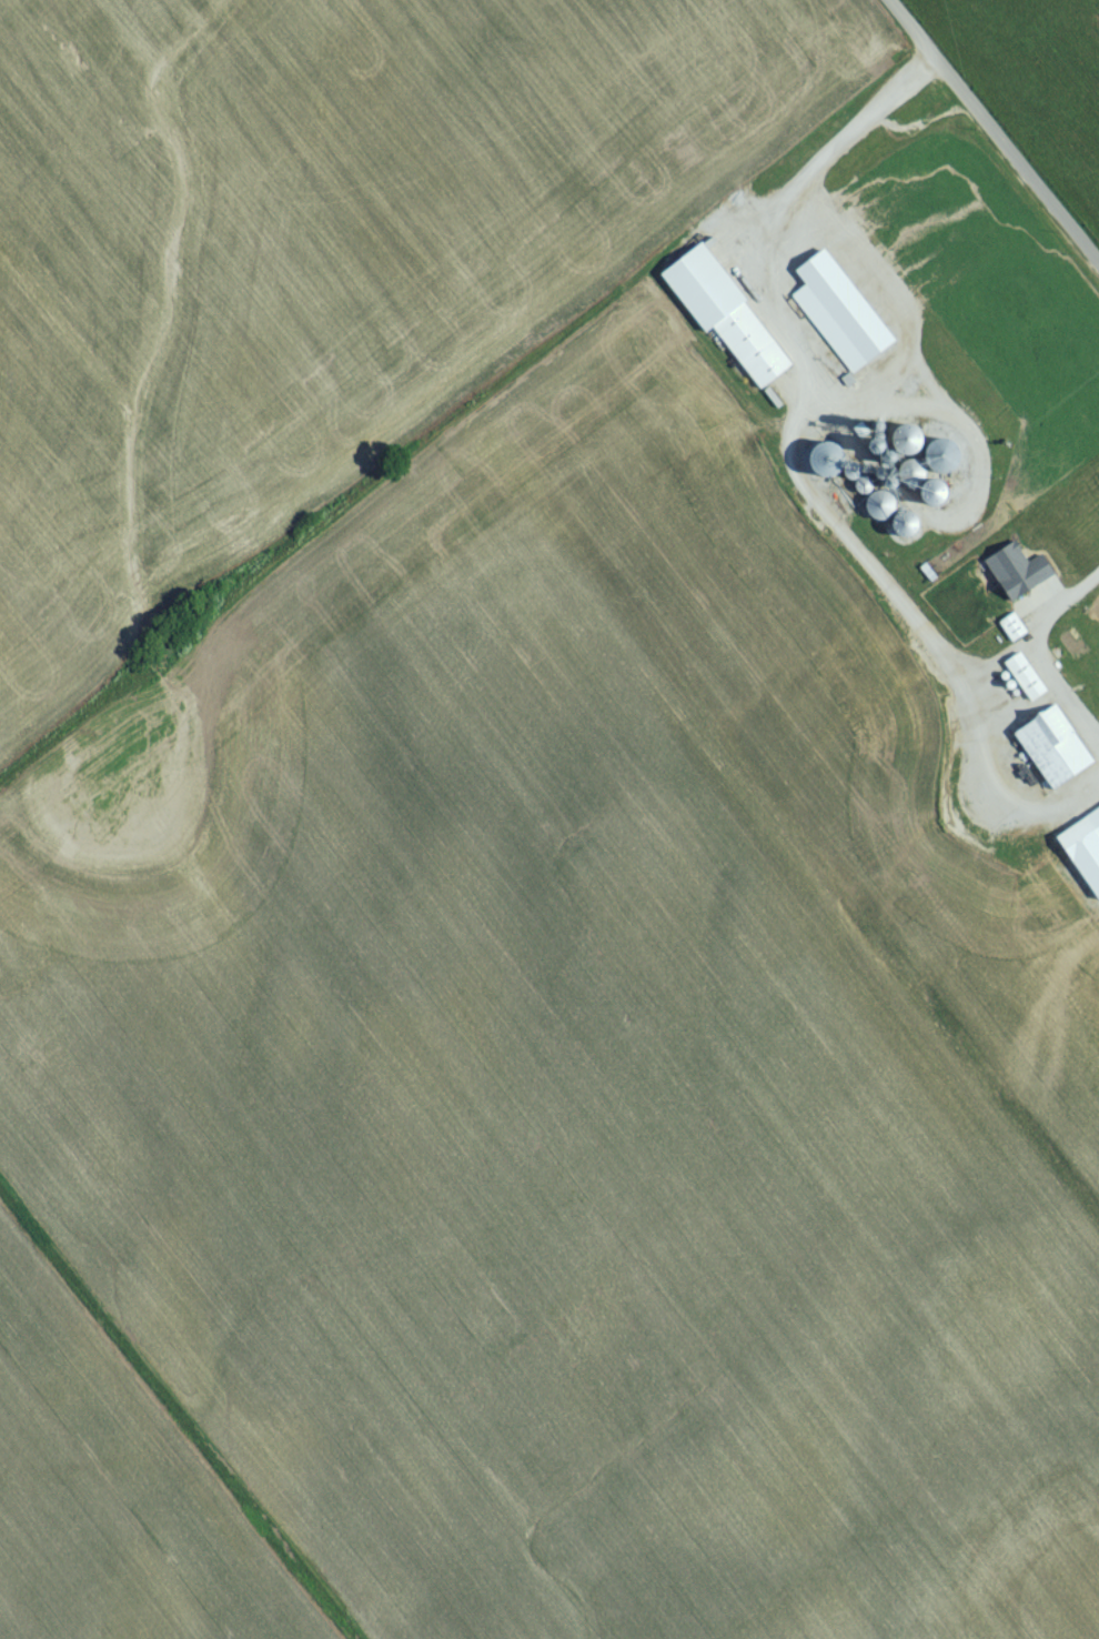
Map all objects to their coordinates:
road: (989, 135)
building: (847, 313)
building: (727, 321)
road: (798, 475)
building: (1010, 594)
building: (1012, 637)
road: (1037, 651)
building: (1026, 677)
building: (1061, 750)
building: (1080, 844)

